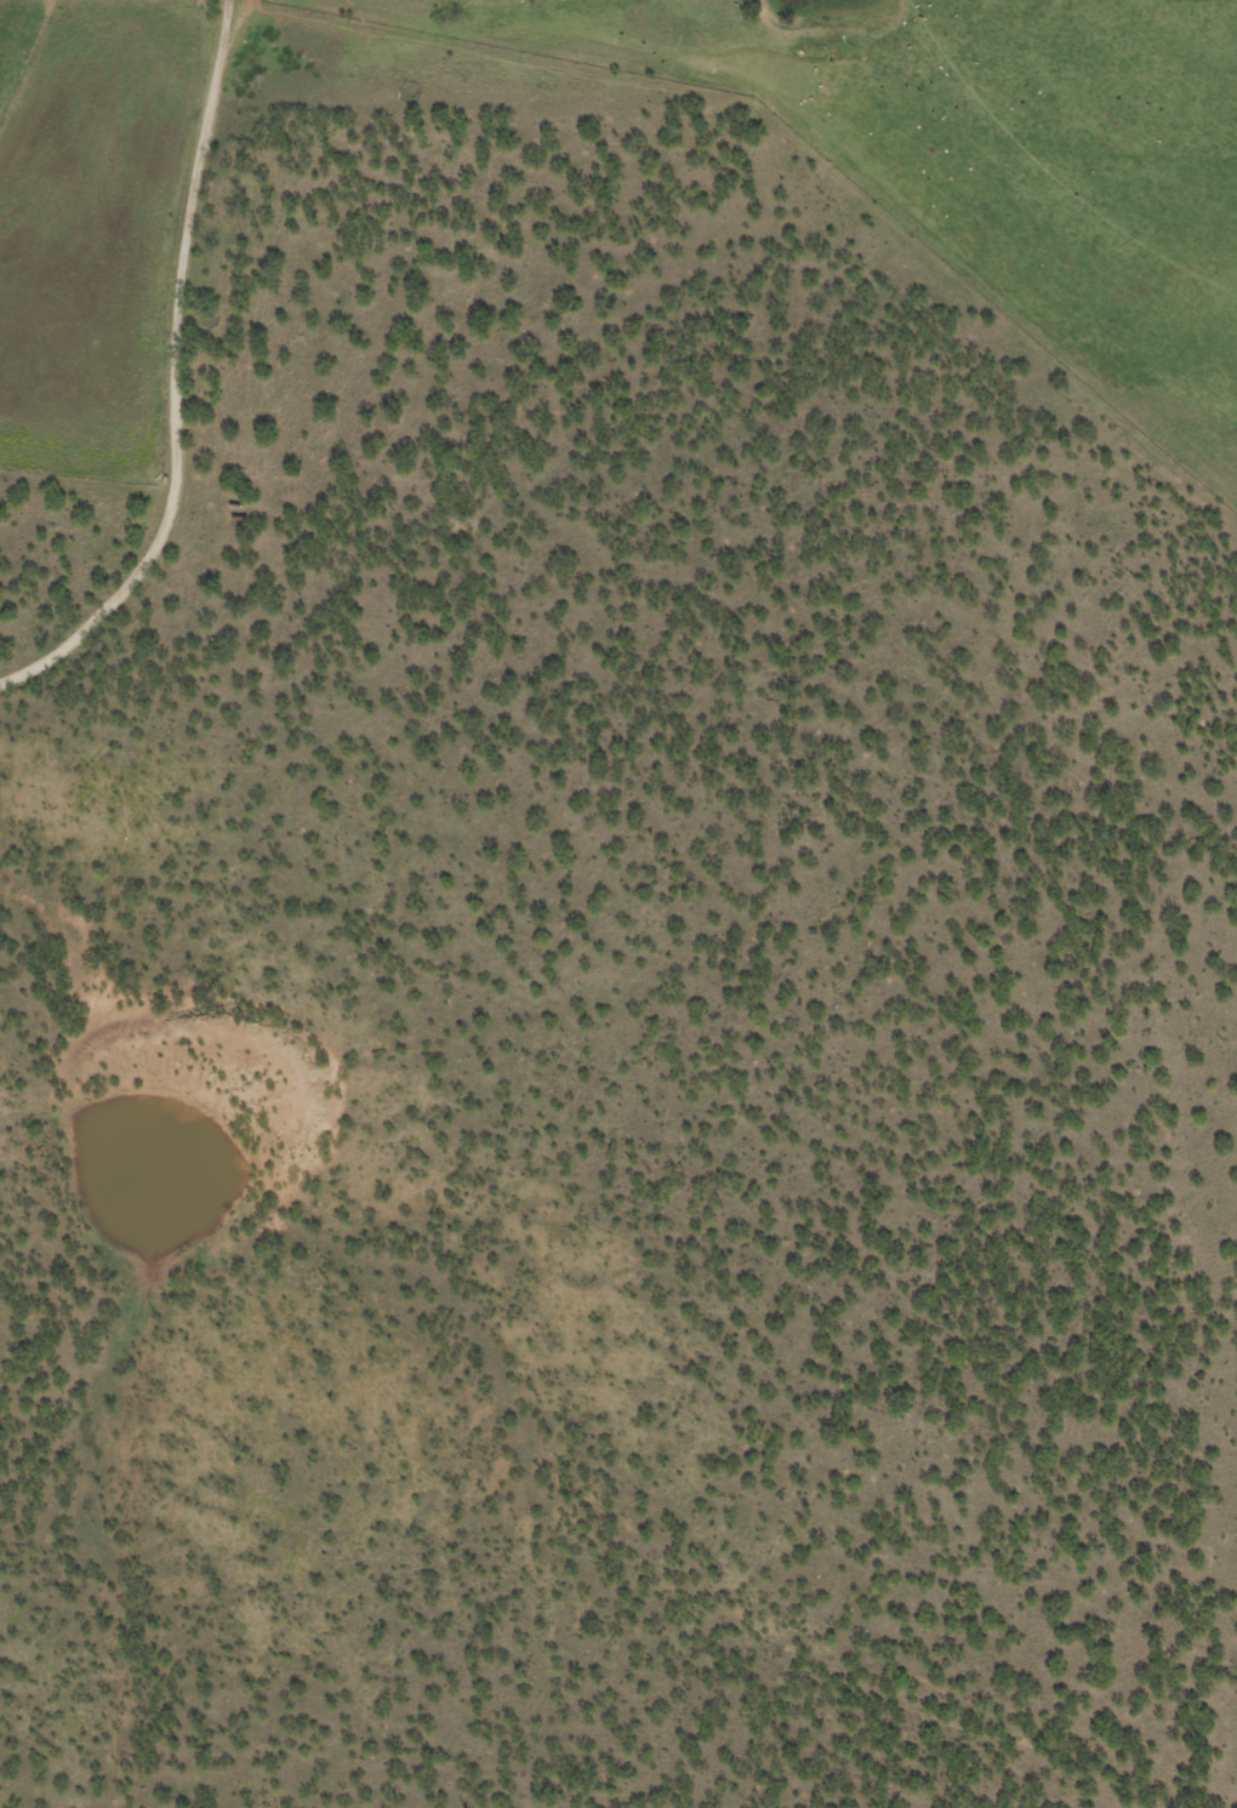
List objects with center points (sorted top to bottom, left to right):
road: (181, 380)

